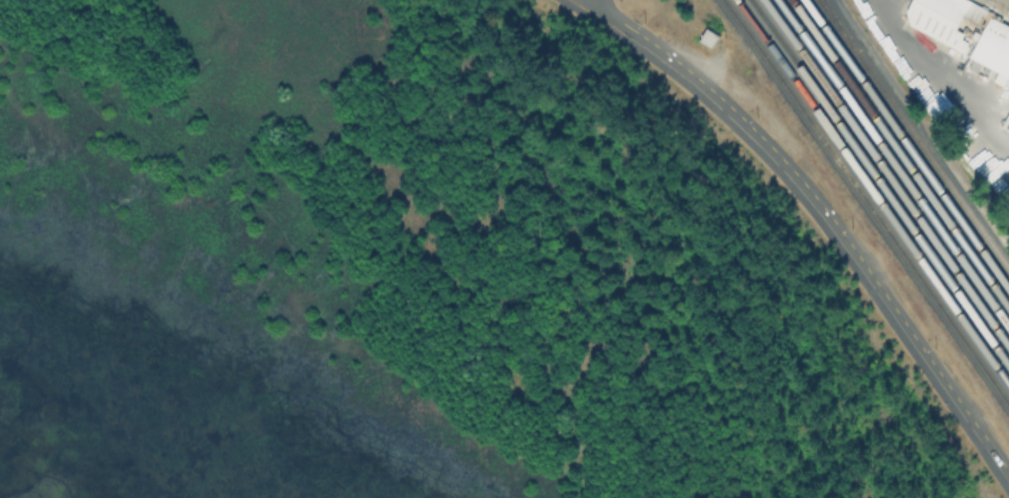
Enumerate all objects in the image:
road: (603, 5)
railway: (994, 7)
railway: (838, 26)
building: (963, 32)
building: (707, 40)
road: (940, 75)
building: (1005, 122)
railway: (913, 136)
railway: (907, 145)
railway: (900, 154)
railway: (893, 164)
railway: (886, 174)
railway: (879, 183)
railway: (872, 194)
railway: (865, 203)
road: (824, 210)
road: (816, 216)

